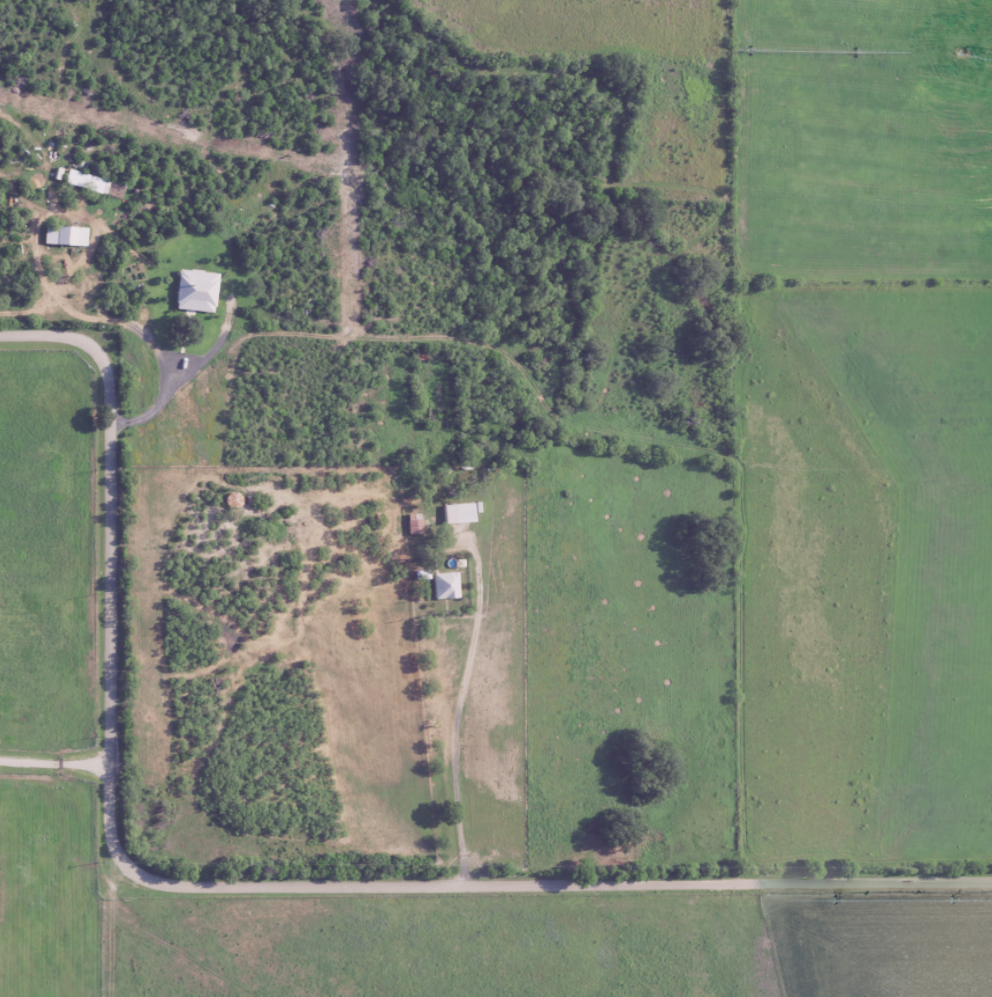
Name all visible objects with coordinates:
building: (64, 237)
building: (194, 292)
road: (57, 296)
building: (458, 514)
building: (414, 527)
building: (443, 587)
road: (56, 762)
road: (459, 765)
road: (242, 884)
road: (93, 935)

